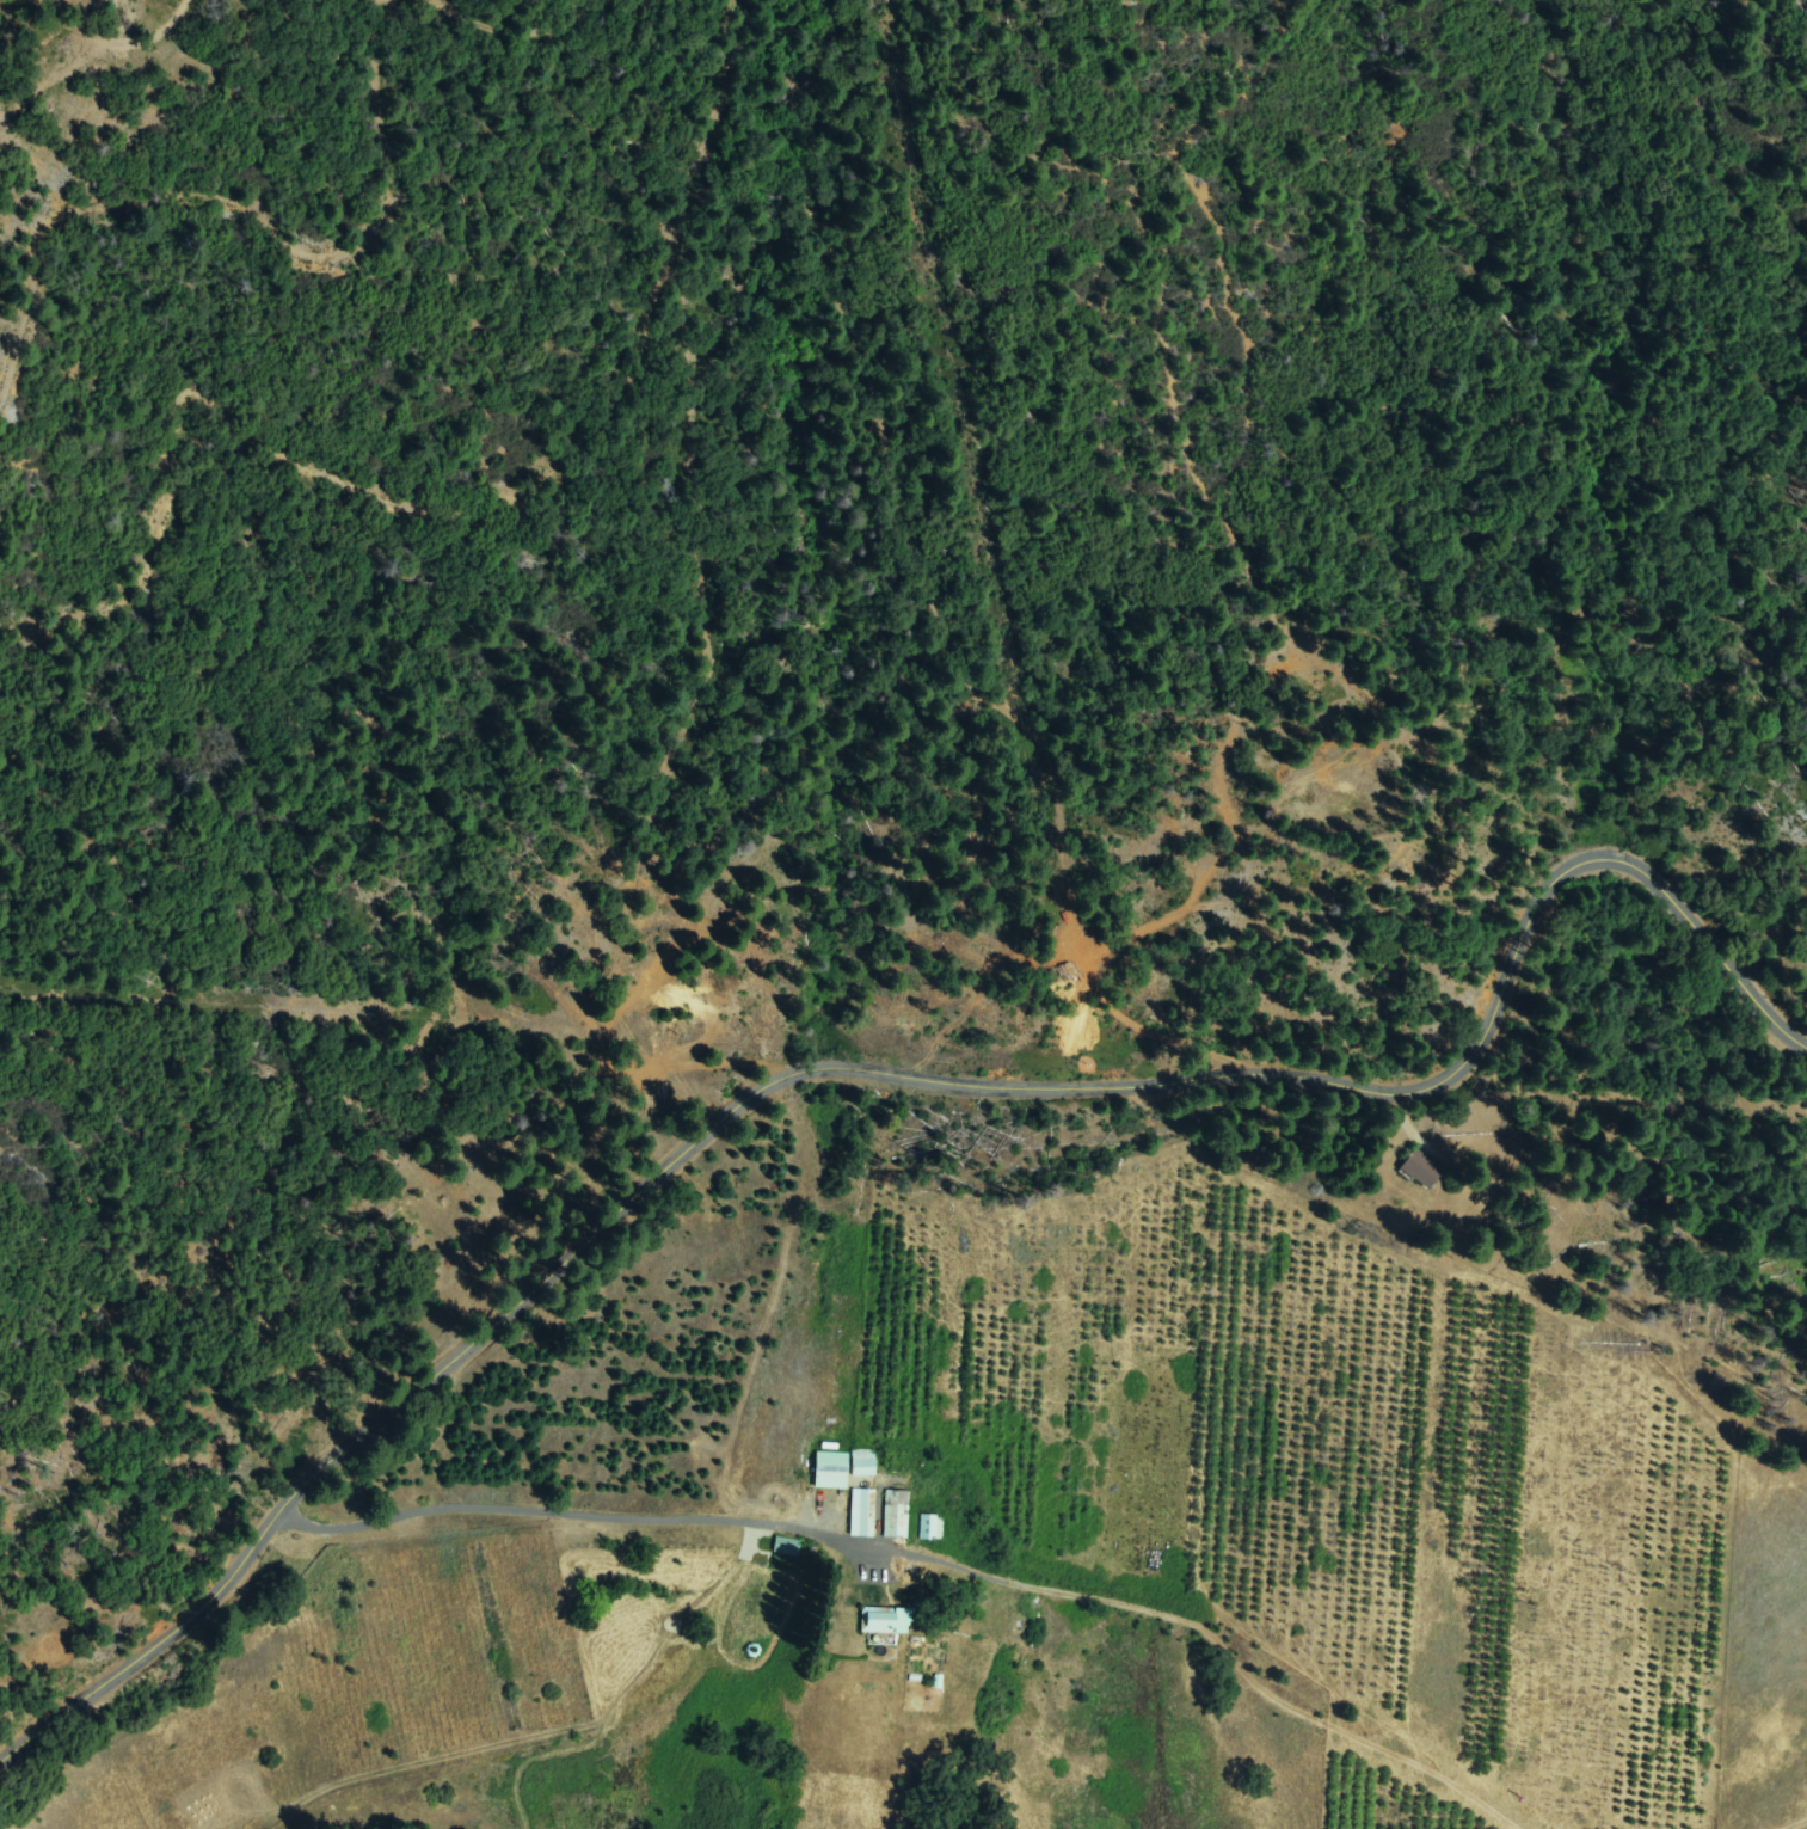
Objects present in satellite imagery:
road: (873, 1080)
building: (1421, 1170)
building: (862, 1465)
building: (831, 1469)
road: (468, 1512)
building: (863, 1512)
building: (896, 1514)
building: (929, 1527)
building: (786, 1547)
road: (1157, 1601)
building: (886, 1621)
storage tank: (752, 1651)
road: (1795, 1824)

